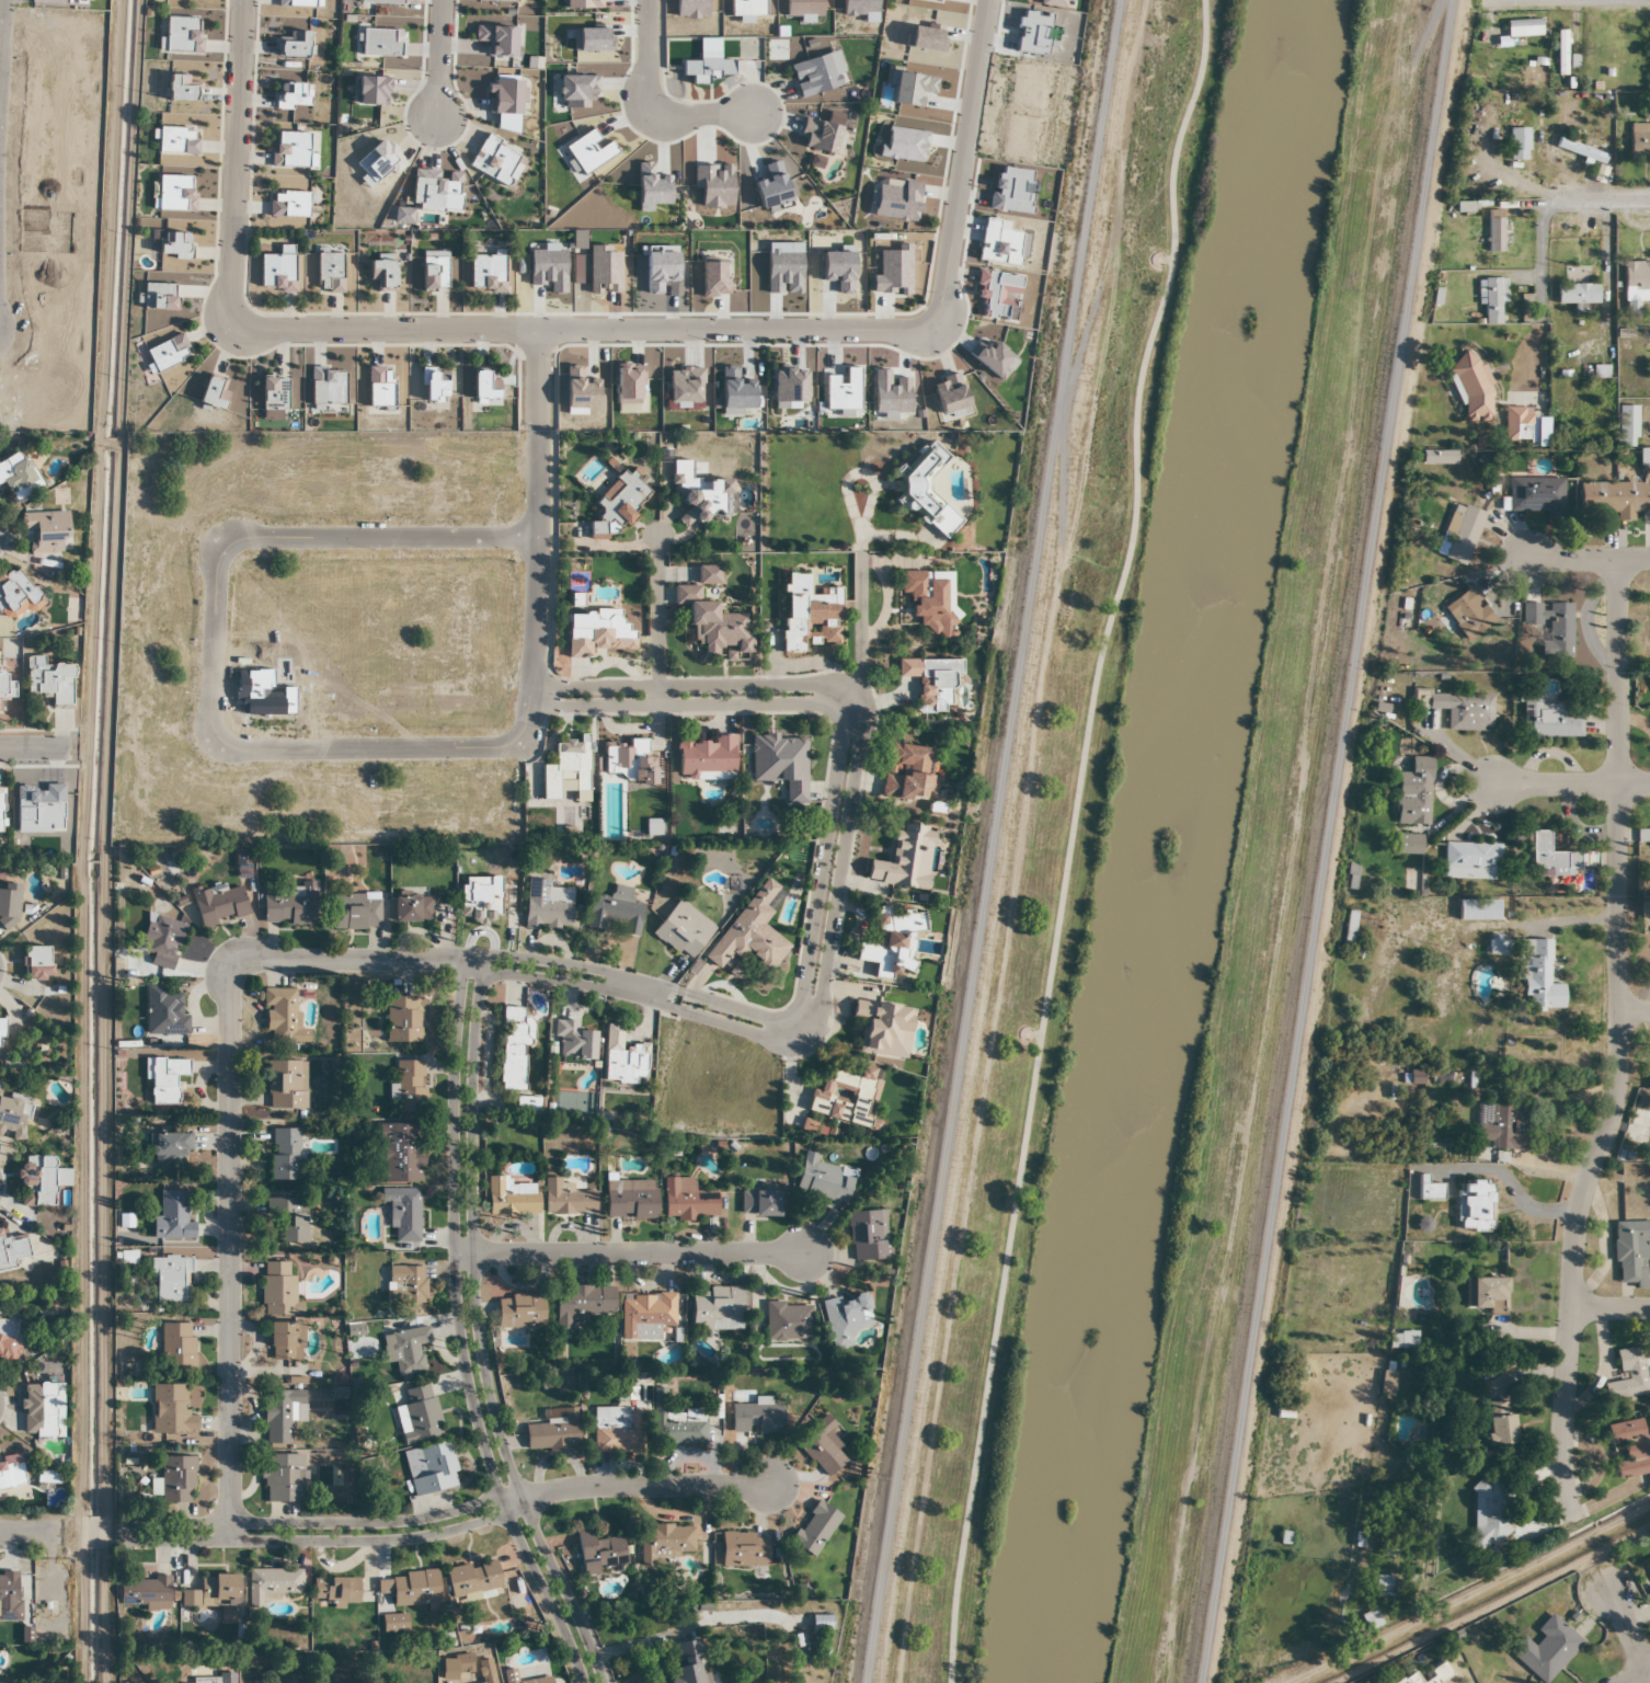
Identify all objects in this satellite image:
road: (2, 32)
building: (1561, 51)
road: (440, 59)
road: (649, 108)
building: (1639, 138)
building: (1580, 150)
road: (962, 160)
road: (236, 161)
road: (1602, 201)
road: (128, 211)
road: (1540, 255)
building: (1636, 283)
building: (1577, 295)
road: (584, 332)
road: (1534, 348)
building: (1627, 425)
building: (1439, 456)
building: (1643, 456)
building: (1488, 460)
building: (18, 474)
building: (927, 491)
building: (698, 493)
building: (1534, 495)
building: (1613, 496)
building: (619, 502)
road: (548, 510)
building: (48, 530)
building: (1460, 533)
road: (396, 537)
road: (1589, 559)
river: (1213, 575)
building: (18, 594)
building: (931, 600)
building: (1469, 614)
building: (810, 616)
road: (656, 622)
building: (1552, 625)
building: (713, 626)
building: (596, 632)
road: (857, 632)
building: (50, 682)
building: (931, 682)
road: (702, 684)
building: (1459, 708)
building: (1550, 720)
road: (35, 748)
road: (300, 749)
building: (706, 758)
building: (628, 763)
building: (781, 764)
building: (907, 772)
building: (568, 774)
road: (1571, 783)
building: (1413, 792)
building: (1, 812)
building: (1642, 833)
road: (1067, 837)
road: (993, 841)
road: (1324, 841)
building: (1408, 843)
building: (1550, 855)
building: (1471, 859)
building: (906, 860)
road: (817, 884)
building: (288, 904)
building: (219, 906)
building: (546, 906)
building: (8, 908)
building: (1478, 908)
building: (412, 909)
building: (616, 912)
building: (355, 913)
building: (1645, 915)
building: (684, 930)
building: (750, 936)
building: (161, 940)
building: (892, 942)
building: (1499, 943)
building: (37, 963)
building: (1538, 974)
road: (643, 989)
road: (1632, 1012)
building: (164, 1015)
building: (283, 1020)
building: (402, 1020)
road: (792, 1027)
building: (883, 1029)
building: (0, 1033)
road: (800, 1038)
building: (573, 1042)
road: (1616, 1045)
building: (514, 1047)
building: (622, 1058)
building: (1412, 1076)
building: (1649, 1077)
building: (164, 1079)
building: (286, 1085)
building: (409, 1087)
building: (845, 1097)
building: (12, 1118)
building: (1504, 1126)
road: (229, 1141)
building: (171, 1149)
building: (400, 1153)
building: (285, 1155)
building: (824, 1180)
building: (37, 1181)
building: (1428, 1189)
building: (511, 1198)
building: (566, 1199)
building: (630, 1200)
building: (688, 1200)
building: (759, 1204)
building: (1474, 1204)
building: (401, 1216)
building: (172, 1217)
building: (289, 1221)
road: (455, 1232)
building: (868, 1236)
building: (12, 1251)
building: (1631, 1251)
road: (630, 1252)
building: (170, 1281)
building: (406, 1289)
building: (278, 1291)
building: (1487, 1295)
building: (581, 1306)
road: (1609, 1307)
building: (715, 1308)
building: (519, 1312)
building: (646, 1315)
building: (846, 1319)
building: (788, 1323)
road: (478, 1330)
building: (1402, 1339)
building: (285, 1341)
building: (9, 1342)
building: (176, 1348)
building: (406, 1351)
building: (1628, 1375)
building: (1387, 1382)
building: (42, 1410)
building: (171, 1411)
building: (278, 1416)
building: (419, 1417)
river: (1088, 1417)
building: (757, 1418)
building: (1499, 1422)
building: (679, 1428)
building: (617, 1431)
building: (553, 1433)
building: (1292, 1435)
building: (822, 1446)
building: (1630, 1447)
building: (431, 1469)
building: (11, 1473)
building: (283, 1478)
building: (177, 1480)
road: (645, 1485)
building: (1389, 1503)
building: (1488, 1513)
road: (314, 1522)
building: (815, 1530)
road: (32, 1532)
road: (326, 1541)
building: (664, 1543)
building: (744, 1550)
building: (599, 1554)
building: (1649, 1559)
building: (474, 1579)
building: (274, 1583)
building: (1384, 1583)
road: (543, 1588)
building: (218, 1589)
building: (415, 1589)
building: (335, 1591)
building: (145, 1593)
building: (9, 1596)
building: (1371, 1618)
road: (1629, 1630)
building: (1546, 1649)
building: (688, 1662)
building: (509, 1673)
building: (1425, 1676)
road: (1639, 1678)
building: (211, 1679)
building: (256, 1681)
building: (379, 1682)

